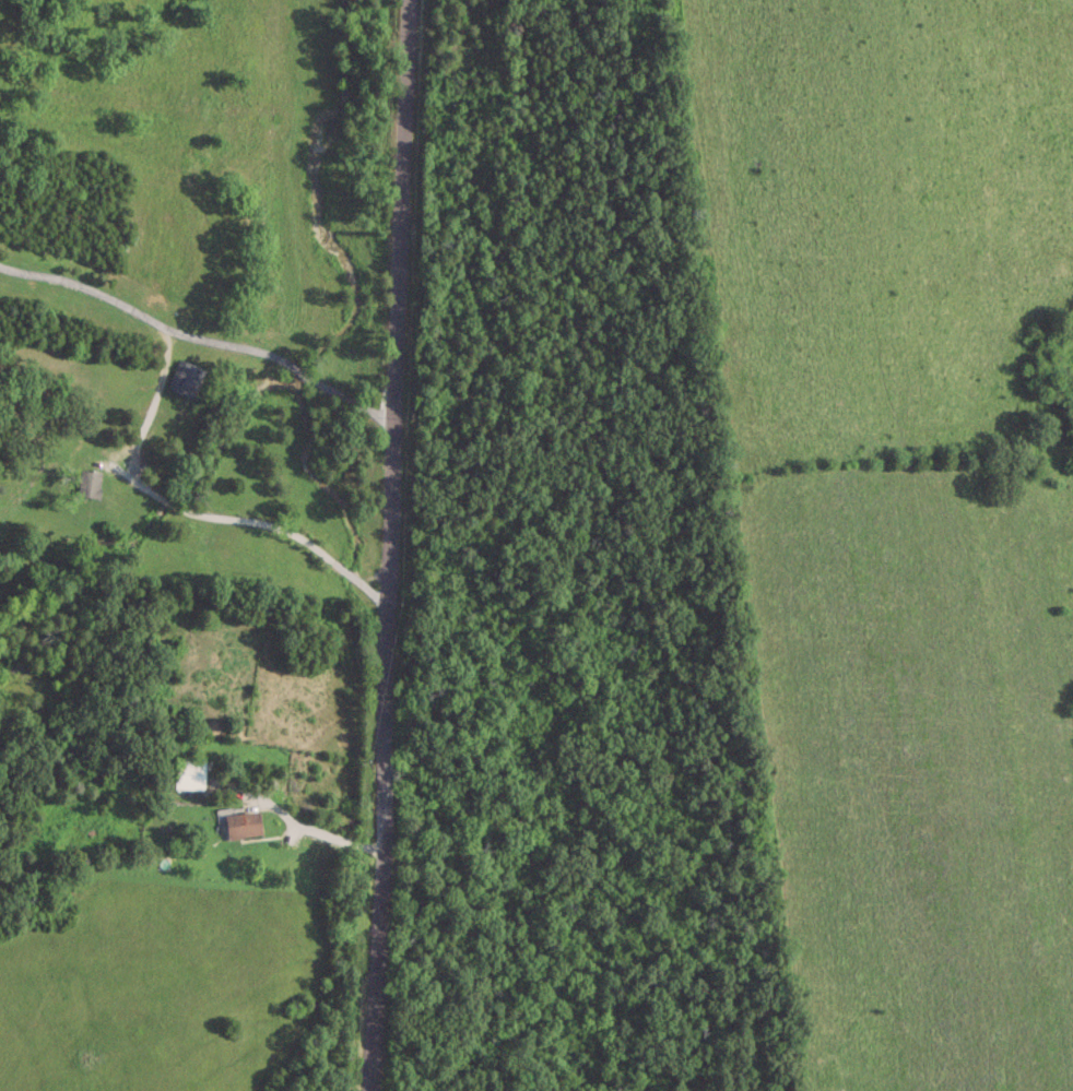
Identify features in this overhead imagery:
road: (84, 289)
building: (186, 377)
road: (146, 425)
building: (90, 482)
road: (386, 545)
building: (189, 773)
building: (243, 823)
road: (317, 831)

